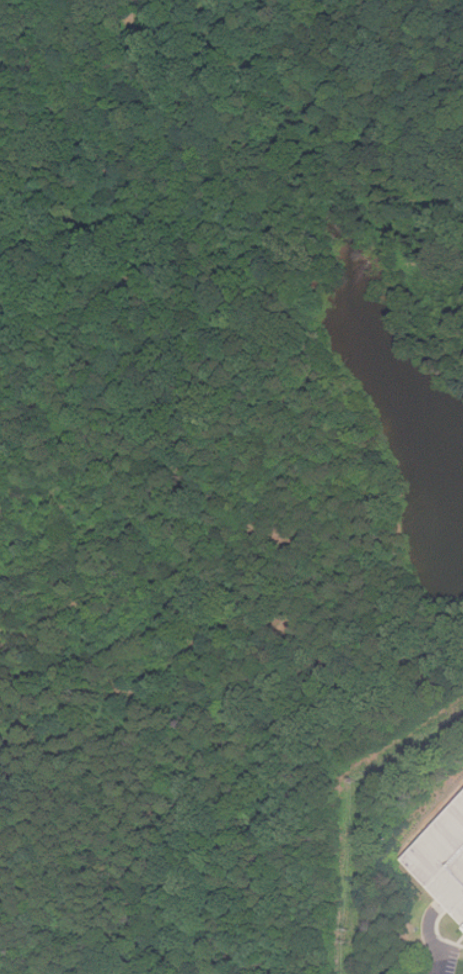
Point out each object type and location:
river: (386, 364)
building: (445, 859)
parking garage: (445, 859)
road: (430, 934)
parking lot: (441, 959)

